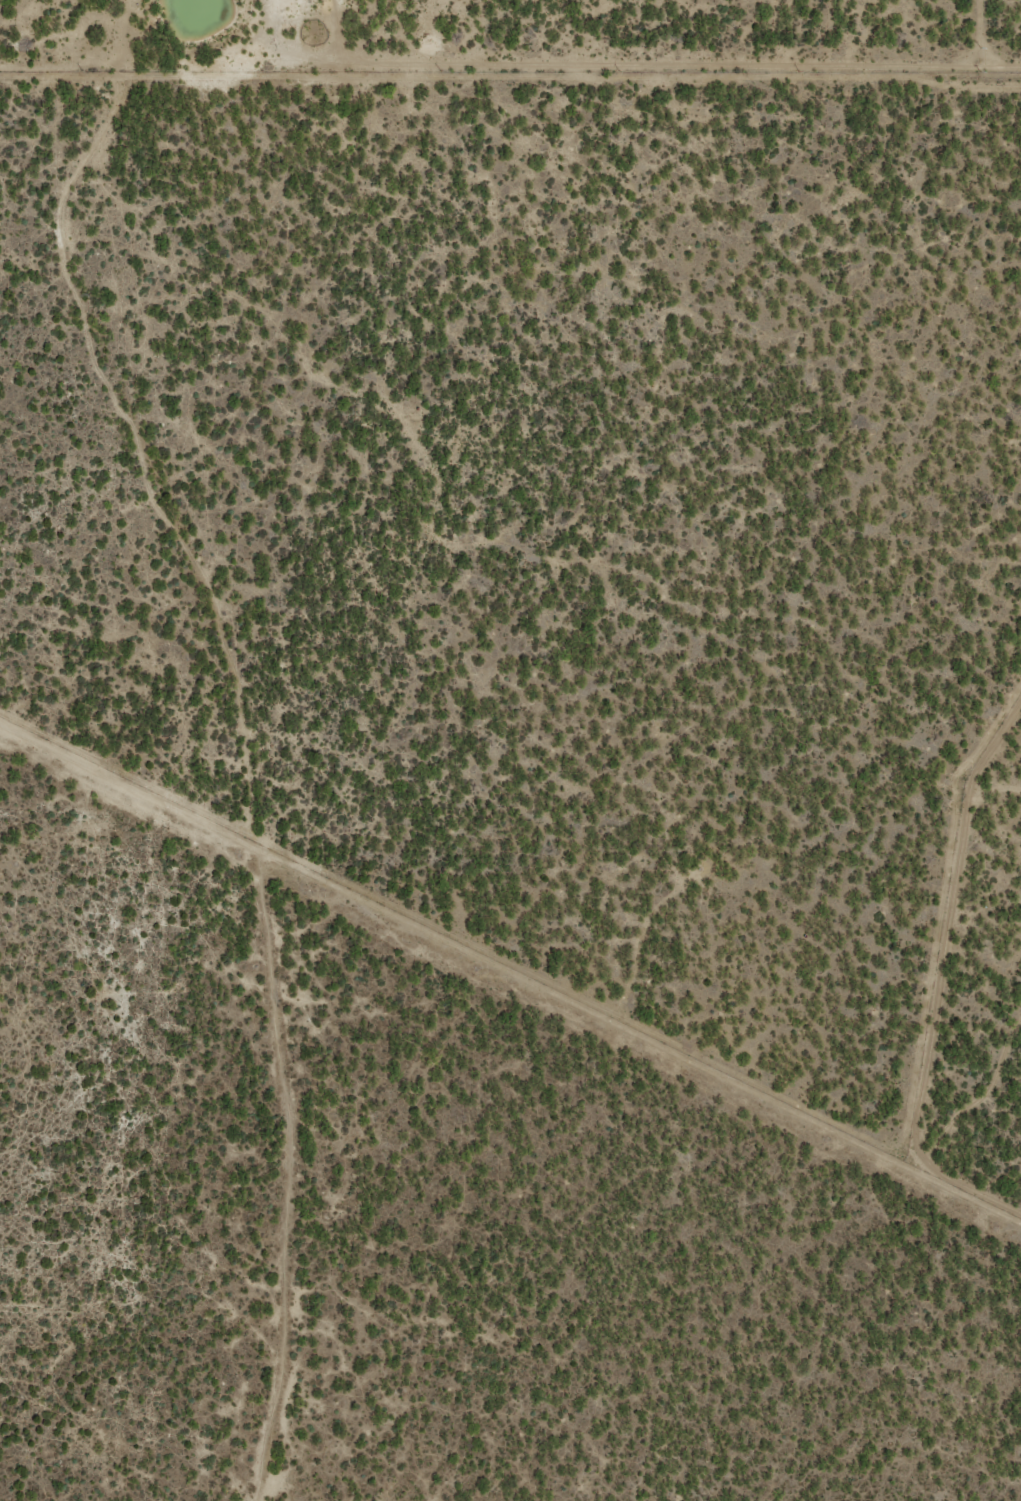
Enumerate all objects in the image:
road: (58, 239)
road: (510, 962)
road: (288, 1195)

